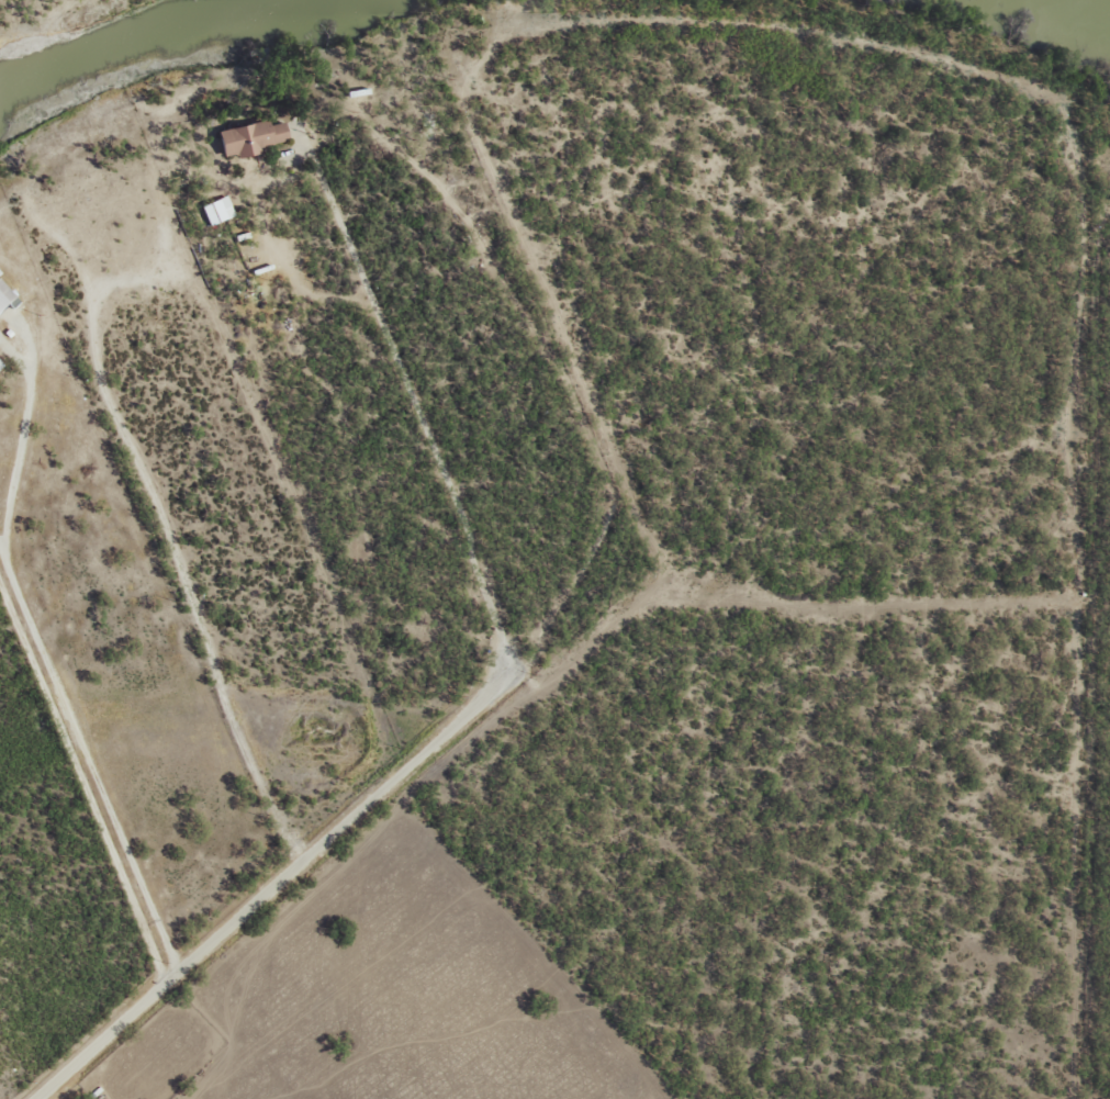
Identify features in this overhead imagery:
road: (32, 8)
river: (1058, 18)
river: (138, 43)
building: (247, 136)
building: (215, 209)
building: (3, 294)
road: (334, 487)
road: (319, 877)

